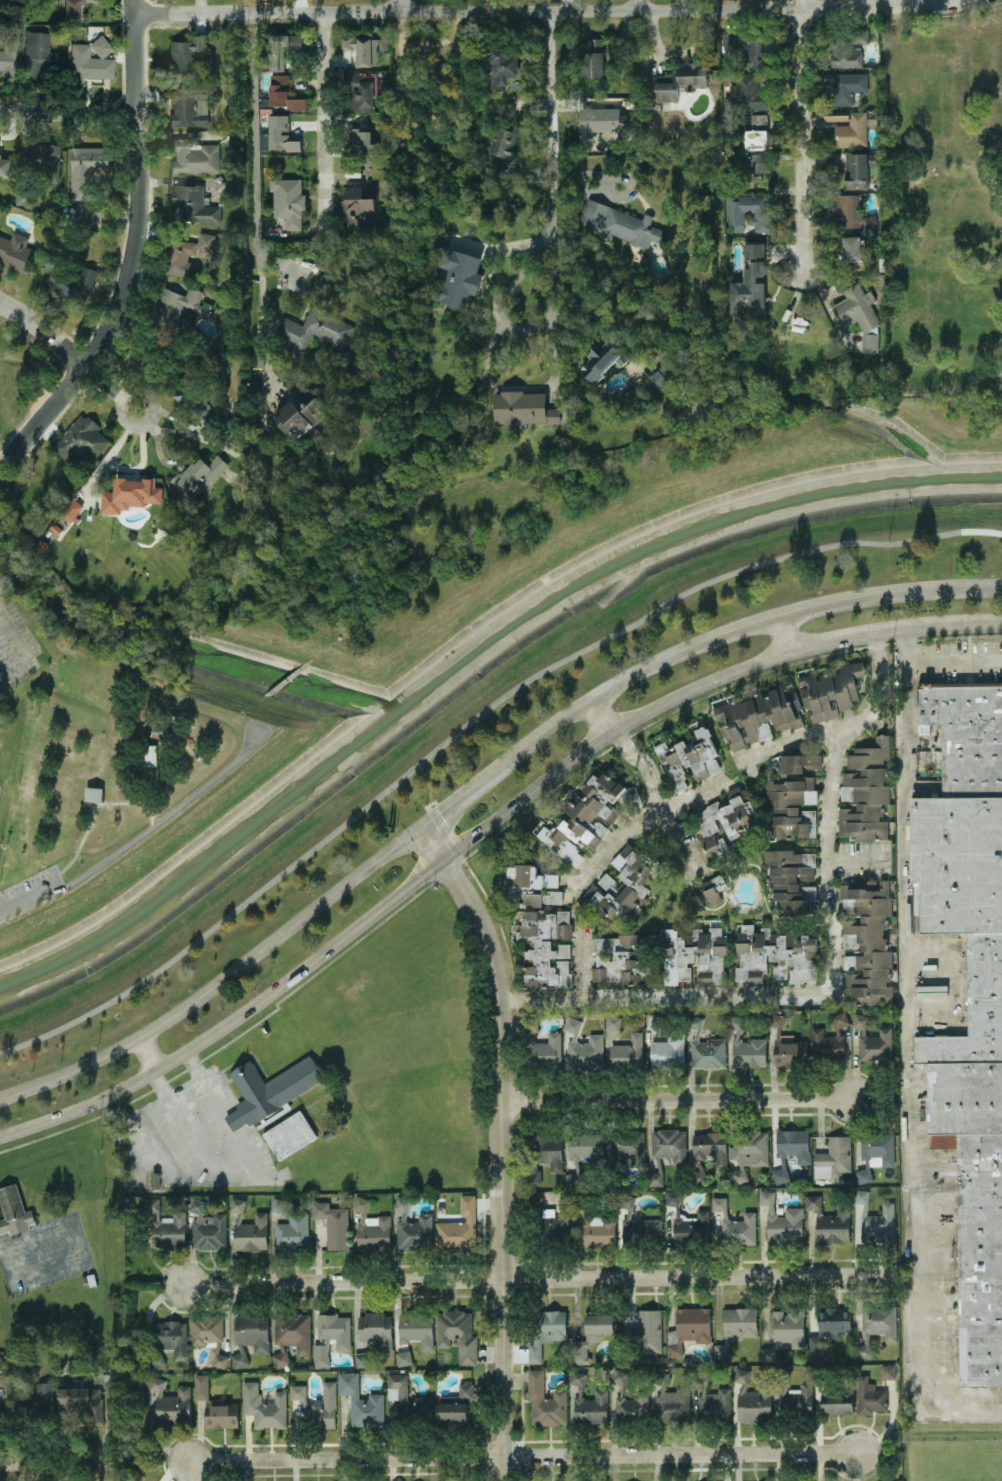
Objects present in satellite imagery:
road: (902, 2)
road: (636, 4)
road: (928, 4)
road: (398, 5)
building: (73, 9)
road: (517, 9)
building: (101, 46)
building: (750, 46)
building: (282, 48)
building: (363, 48)
building: (186, 53)
building: (36, 55)
building: (592, 57)
building: (8, 63)
building: (88, 64)
building: (503, 65)
building: (682, 81)
building: (847, 87)
building: (360, 91)
building: (748, 92)
building: (284, 93)
park: (437, 100)
building: (189, 106)
road: (67, 114)
building: (759, 119)
road: (322, 120)
building: (604, 121)
road: (973, 121)
road: (545, 123)
building: (852, 130)
building: (280, 133)
road: (798, 133)
building: (756, 139)
building: (503, 143)
building: (363, 146)
building: (194, 156)
road: (987, 156)
building: (47, 158)
building: (756, 162)
building: (5, 165)
building: (86, 168)
building: (858, 169)
building: (24, 196)
road: (256, 196)
road: (619, 197)
building: (288, 200)
building: (192, 205)
building: (358, 205)
building: (848, 210)
building: (749, 212)
building: (870, 222)
building: (620, 223)
road: (903, 238)
road: (500, 247)
building: (852, 247)
building: (754, 249)
building: (16, 251)
road: (131, 252)
building: (187, 254)
building: (458, 277)
building: (69, 280)
building: (749, 292)
building: (177, 304)
building: (859, 314)
road: (596, 320)
building: (314, 328)
road: (516, 328)
road: (43, 330)
building: (603, 361)
road: (104, 381)
road: (518, 387)
road: (125, 398)
building: (195, 399)
building: (523, 408)
building: (303, 415)
building: (81, 440)
building: (197, 477)
building: (129, 494)
building: (71, 509)
road: (981, 530)
river: (677, 541)
road: (782, 635)
road: (17, 648)
road: (954, 661)
park: (473, 664)
building: (830, 691)
road: (601, 716)
building: (759, 716)
road: (453, 734)
building: (150, 755)
building: (689, 758)
building: (798, 762)
road: (645, 768)
park: (123, 778)
road: (476, 783)
building: (865, 791)
road: (706, 792)
building: (93, 793)
road: (149, 797)
building: (790, 806)
road: (162, 816)
building: (585, 816)
road: (90, 819)
building: (726, 820)
traffic signals: (420, 829)
road: (482, 832)
road: (857, 858)
traffic signals: (445, 860)
river: (204, 868)
building: (790, 879)
building: (623, 884)
building: (533, 885)
building: (713, 887)
parking lot: (29, 891)
road: (28, 897)
building: (867, 940)
building: (545, 947)
building: (695, 955)
building: (774, 956)
building: (619, 959)
road: (960, 978)
building: (968, 992)
road: (802, 998)
building: (777, 1019)
building: (859, 1020)
building: (613, 1022)
building: (829, 1040)
building: (875, 1044)
building: (541, 1046)
building: (747, 1046)
building: (705, 1047)
building: (583, 1048)
building: (628, 1051)
road: (904, 1051)
building: (668, 1052)
building: (791, 1052)
road: (145, 1054)
building: (270, 1087)
road: (187, 1090)
road: (677, 1100)
building: (233, 1119)
building: (288, 1135)
road: (504, 1143)
building: (670, 1144)
building: (793, 1144)
building: (585, 1145)
building: (628, 1146)
building: (711, 1146)
building: (748, 1151)
building: (875, 1153)
building: (833, 1158)
building: (697, 1175)
building: (655, 1178)
building: (155, 1179)
building: (573, 1179)
building: (535, 1202)
building: (237, 1204)
building: (439, 1208)
building: (14, 1211)
building: (875, 1220)
building: (687, 1221)
building: (782, 1221)
building: (829, 1221)
building: (333, 1223)
building: (638, 1223)
building: (735, 1223)
building: (165, 1225)
building: (412, 1226)
building: (458, 1226)
building: (207, 1227)
building: (371, 1227)
building: (554, 1227)
building: (292, 1231)
building: (597, 1231)
building: (251, 1232)
road: (0, 1250)
road: (79, 1252)
parking lot: (42, 1256)
road: (537, 1278)
building: (90, 1280)
building: (833, 1321)
building: (736, 1326)
building: (876, 1327)
building: (416, 1328)
building: (688, 1328)
building: (376, 1329)
building: (546, 1330)
building: (252, 1331)
building: (293, 1331)
building: (648, 1331)
building: (785, 1332)
building: (457, 1333)
building: (208, 1334)
building: (591, 1335)
building: (331, 1336)
building: (171, 1337)
building: (813, 1348)
building: (239, 1357)
building: (403, 1357)
building: (280, 1358)
building: (362, 1359)
building: (669, 1361)
building: (686, 1361)
building: (0, 1369)
building: (618, 1376)
building: (577, 1377)
building: (22, 1378)
building: (298, 1391)
building: (869, 1396)
building: (796, 1397)
building: (407, 1399)
building: (671, 1399)
building: (752, 1399)
building: (712, 1400)
building: (361, 1401)
building: (545, 1401)
building: (171, 1403)
building: (837, 1403)
building: (78, 1404)
building: (455, 1405)
building: (215, 1406)
building: (264, 1406)
building: (591, 1407)
building: (37, 1408)
building: (320, 1408)
road: (43, 1450)
road: (526, 1455)
road: (19, 1463)

